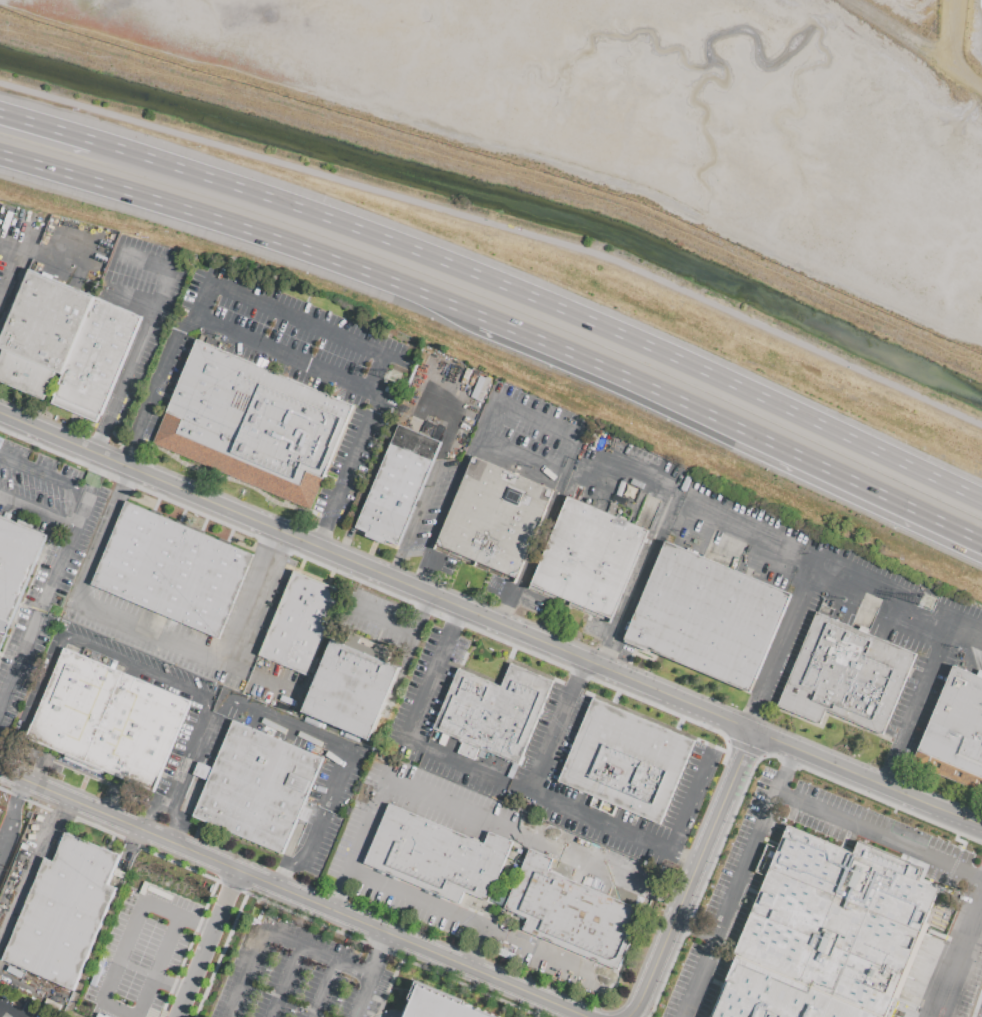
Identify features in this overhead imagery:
road: (939, 24)
road: (915, 43)
road: (47, 126)
road: (30, 163)
road: (500, 166)
road: (501, 227)
road: (275, 239)
road: (15, 241)
parking lot: (48, 253)
road: (27, 255)
road: (133, 300)
road: (545, 302)
parking lot: (143, 313)
road: (297, 320)
road: (150, 322)
building: (41, 334)
building: (96, 359)
road: (302, 363)
parking lot: (290, 369)
power tower: (398, 377)
building: (477, 386)
road: (82, 420)
road: (436, 421)
road: (534, 423)
building: (253, 424)
road: (735, 427)
road: (101, 428)
parking lot: (445, 434)
road: (103, 438)
road: (116, 438)
building: (1, 441)
road: (135, 442)
road: (132, 448)
road: (519, 458)
street lamp: (189, 471)
road: (100, 474)
road: (232, 479)
road: (128, 480)
road: (434, 483)
building: (397, 486)
road: (452, 495)
road: (39, 510)
road: (337, 511)
building: (494, 521)
road: (540, 538)
road: (781, 540)
road: (284, 541)
parking lot: (726, 550)
road: (648, 555)
parking lot: (44, 557)
road: (65, 558)
building: (588, 560)
parking lot: (434, 562)
road: (423, 564)
building: (15, 565)
building: (172, 569)
road: (377, 572)
street lamp: (348, 575)
road: (374, 587)
power tower: (935, 603)
road: (507, 607)
building: (707, 616)
parking lot: (382, 622)
building: (300, 623)
road: (402, 628)
road: (616, 628)
parking lot: (142, 629)
road: (160, 632)
building: (1, 639)
road: (781, 641)
road: (606, 652)
road: (157, 675)
building: (845, 675)
building: (352, 686)
road: (614, 697)
road: (916, 705)
building: (493, 713)
parking lot: (206, 717)
parking lot: (434, 717)
road: (649, 719)
building: (107, 720)
road: (411, 723)
road: (678, 723)
building: (955, 731)
road: (20, 742)
parking lot: (306, 748)
road: (743, 749)
road: (45, 753)
road: (346, 755)
building: (626, 761)
parking lot: (544, 768)
road: (788, 770)
road: (748, 775)
road: (37, 776)
road: (869, 779)
street lamp: (815, 781)
road: (116, 783)
building: (258, 787)
road: (17, 791)
street lamp: (854, 799)
road: (548, 800)
road: (771, 800)
road: (106, 804)
road: (691, 804)
street lamp: (893, 809)
building: (0, 810)
road: (365, 816)
road: (152, 819)
road: (6, 824)
road: (178, 824)
parking lot: (8, 832)
street lamp: (935, 832)
building: (396, 841)
parking lot: (318, 842)
building: (435, 857)
parking lot: (23, 867)
building: (478, 867)
road: (34, 875)
road: (694, 876)
parking lot: (618, 877)
road: (338, 889)
road: (294, 894)
building: (549, 901)
road: (269, 903)
building: (63, 912)
parking lot: (730, 912)
road: (696, 927)
building: (607, 930)
road: (129, 931)
building: (827, 933)
road: (275, 937)
road: (210, 944)
road: (477, 947)
road: (955, 947)
road: (173, 949)
road: (187, 949)
parking lot: (140, 953)
road: (219, 955)
parking lot: (300, 976)
road: (373, 976)
road: (288, 982)
road: (387, 987)
road: (325, 989)
road: (977, 1002)
building: (438, 1005)
parking lot: (20, 1006)
road: (7, 1013)
road: (534, 1016)

